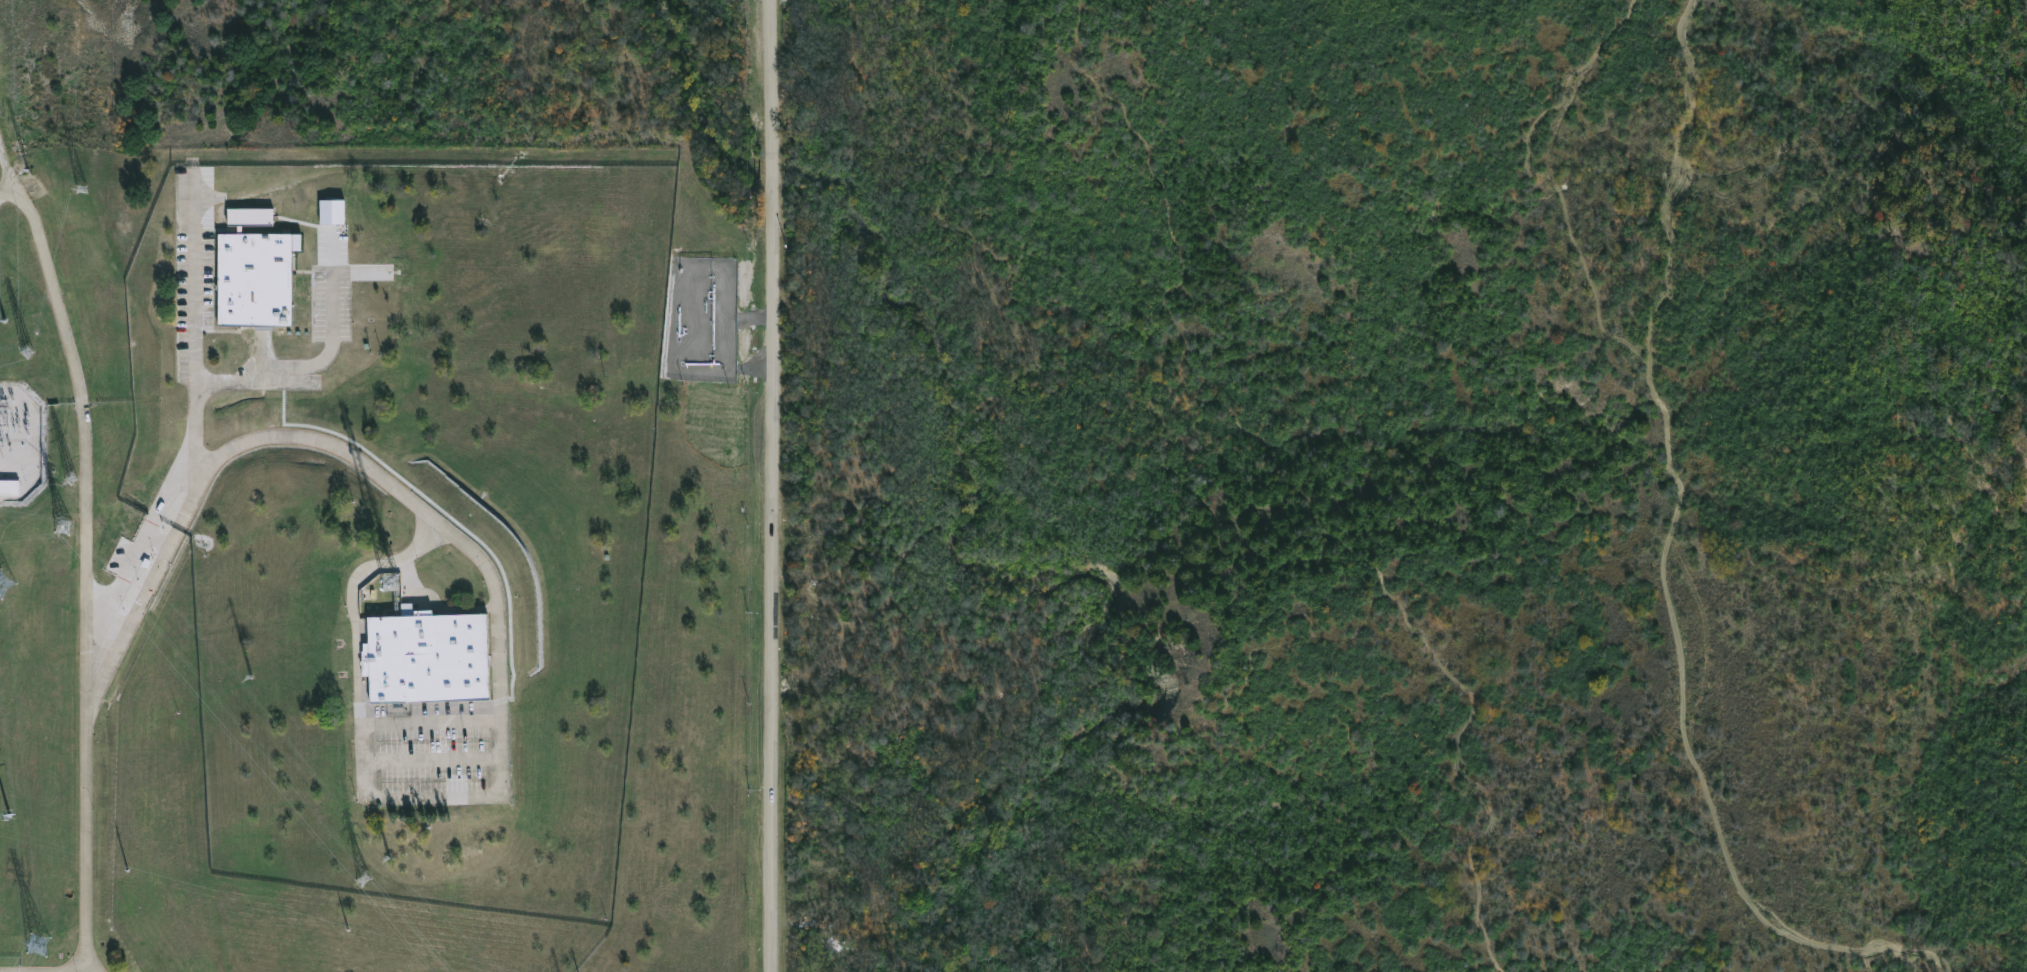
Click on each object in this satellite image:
power tower: (84, 188)
road: (9, 192)
building: (251, 217)
building: (257, 279)
power tower: (1, 305)
road: (198, 329)
power tower: (30, 351)
road: (324, 358)
power tower: (73, 481)
road: (773, 485)
building: (10, 488)
power tower: (70, 526)
road: (90, 550)
road: (497, 600)
building: (430, 659)
road: (433, 722)
road: (435, 760)
building: (461, 787)
power tower: (369, 881)
power tower: (49, 947)

